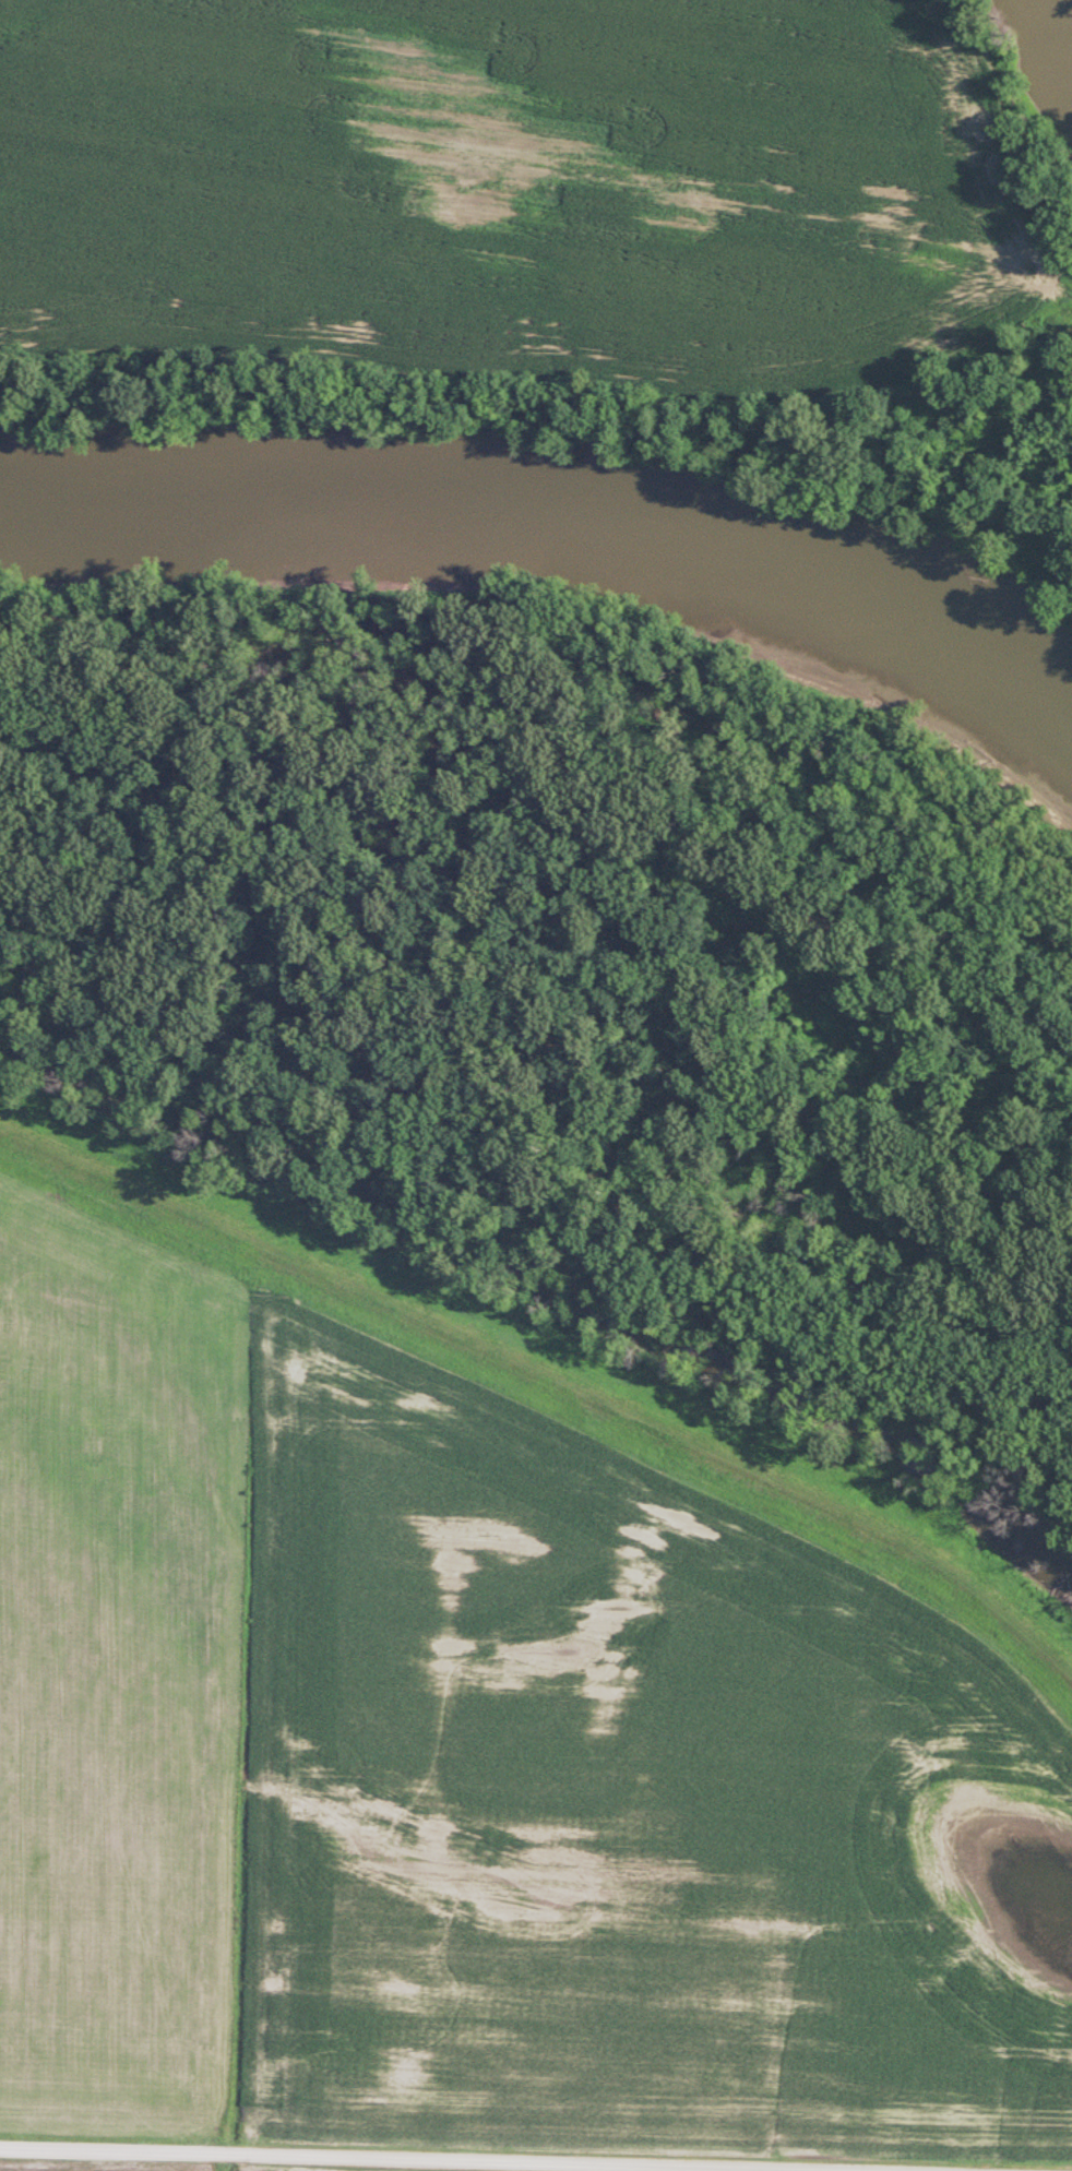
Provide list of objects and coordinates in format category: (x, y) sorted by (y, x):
river: (559, 478)
road: (422, 2158)

